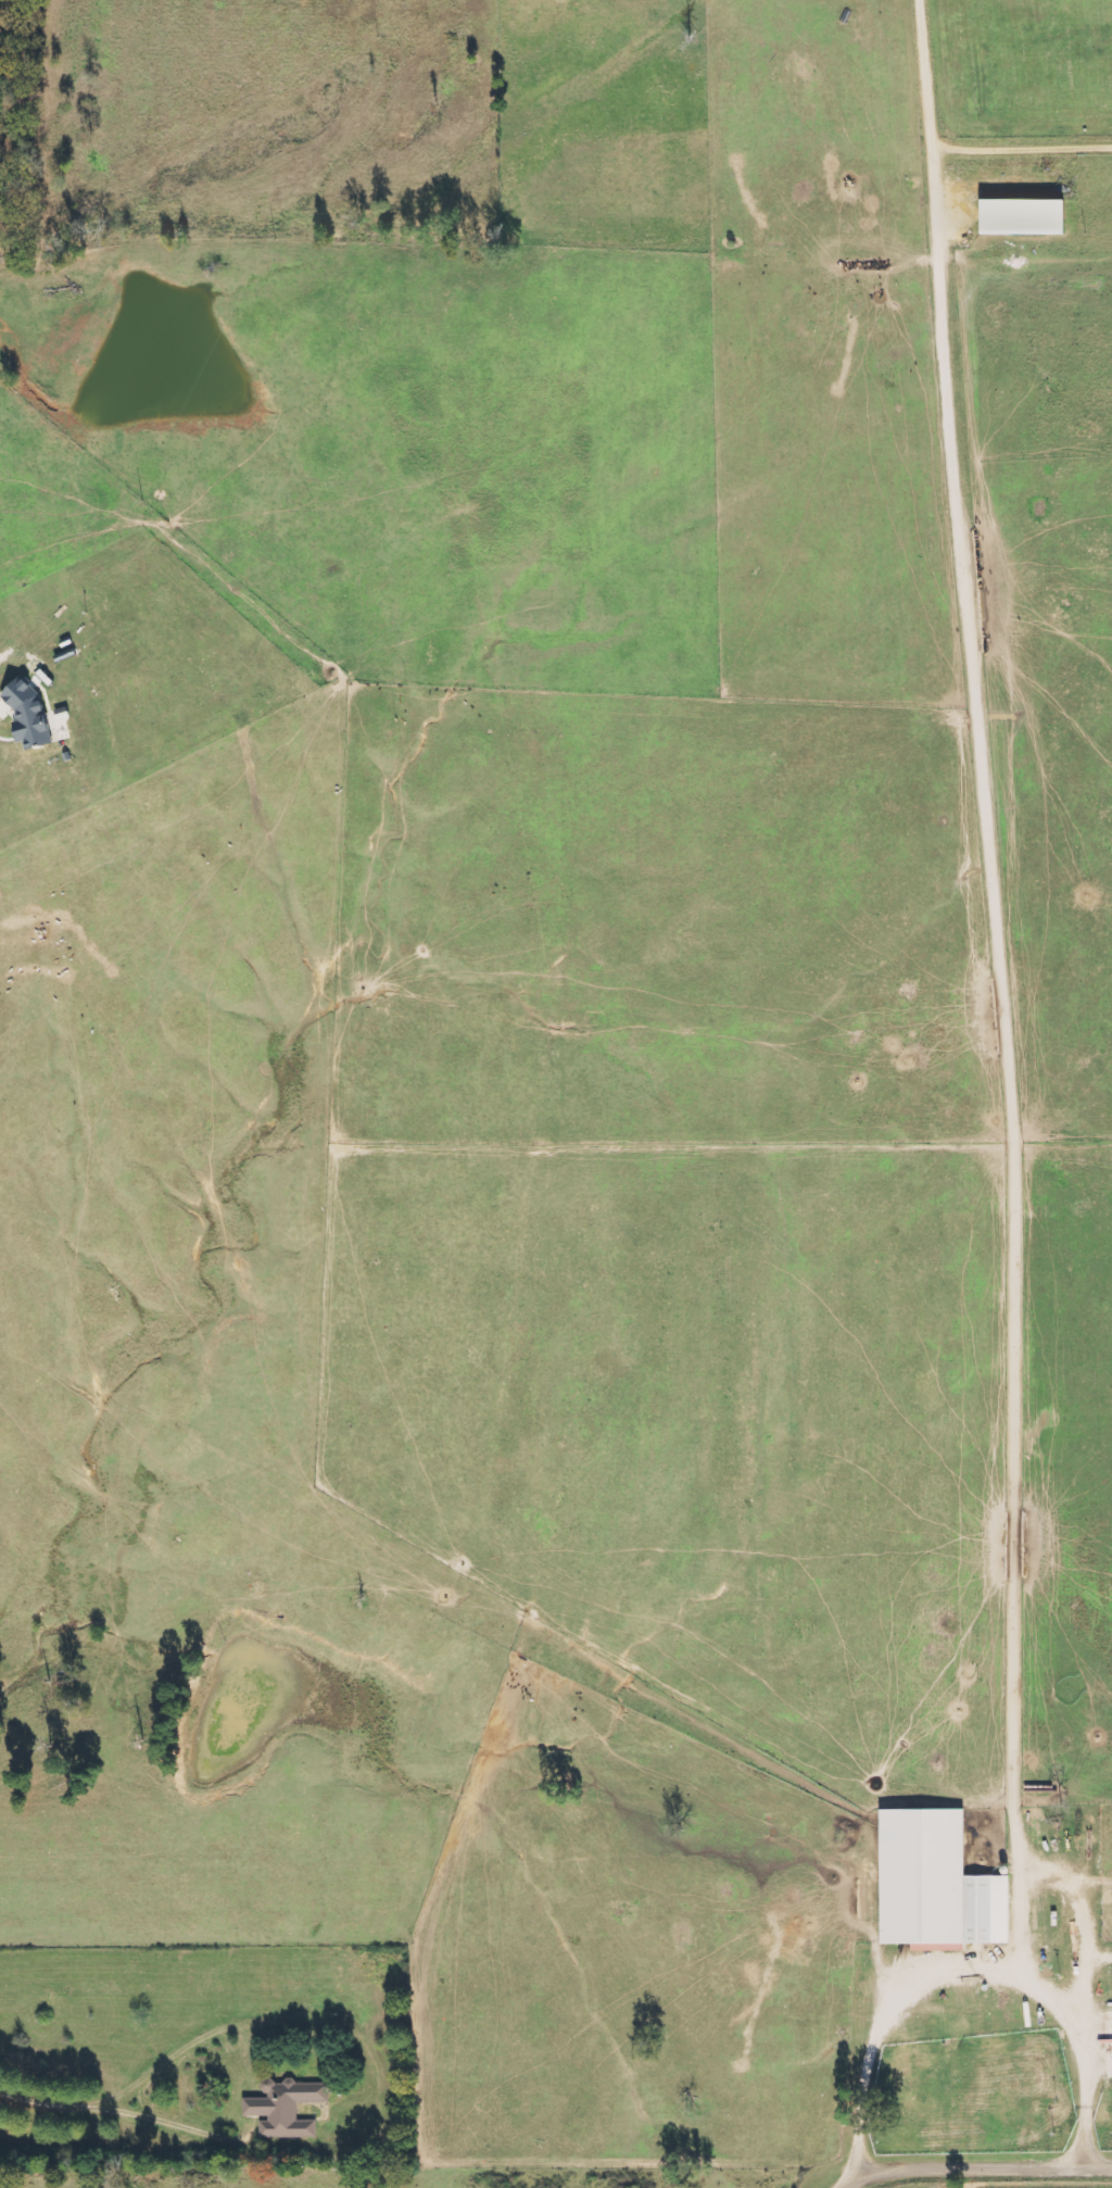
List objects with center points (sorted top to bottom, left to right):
building: (1020, 217)
building: (4, 711)
building: (26, 717)
building: (287, 2113)
road: (983, 2168)

